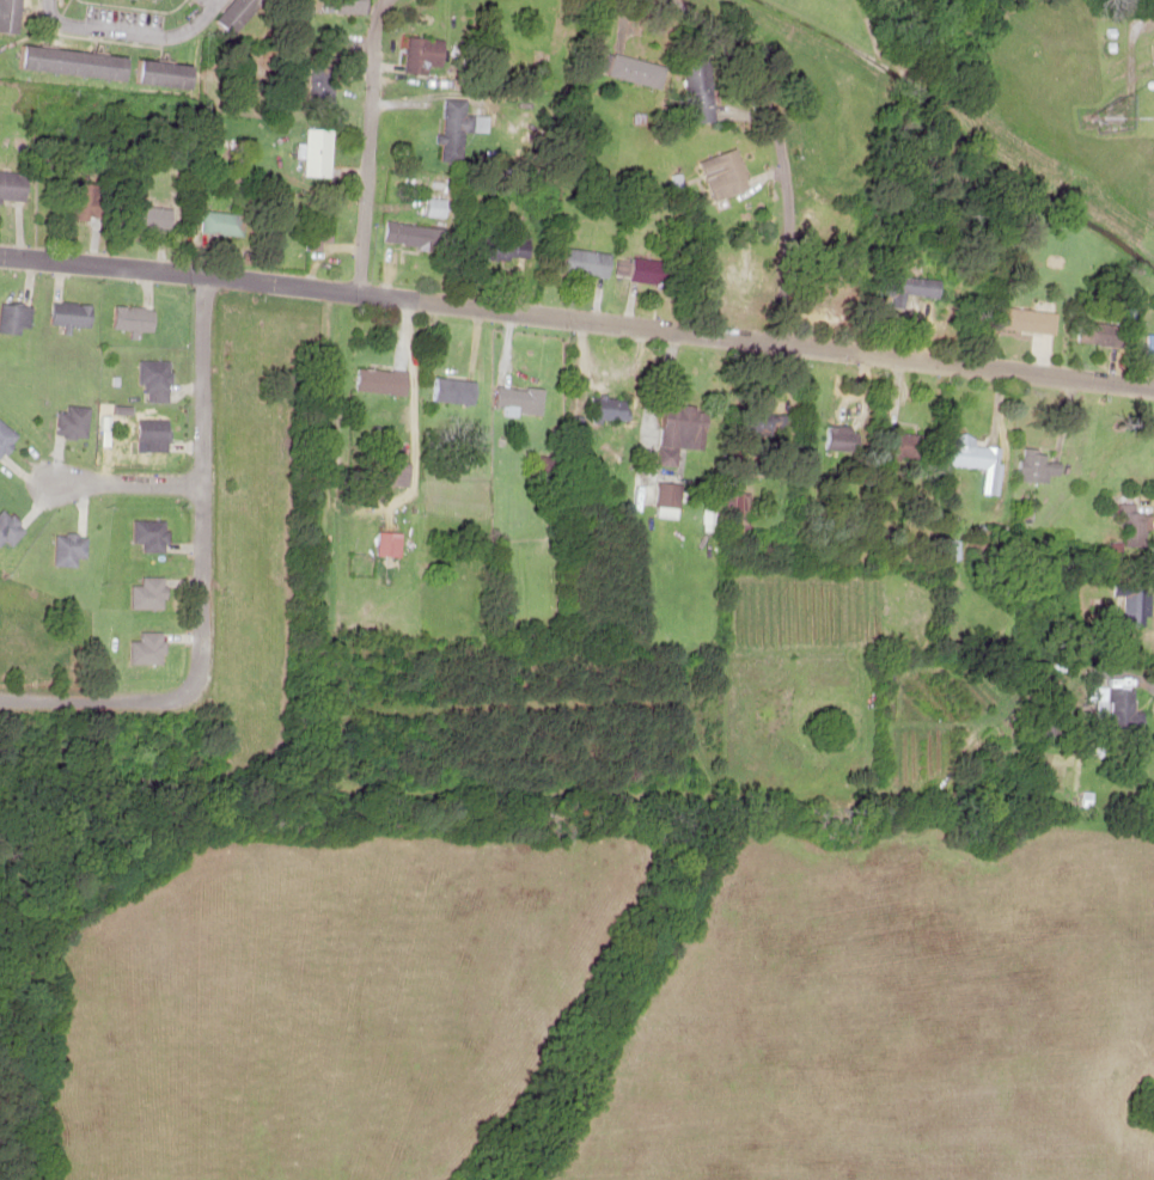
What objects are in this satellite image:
building: (350, 6)
building: (239, 13)
building: (11, 16)
road: (130, 30)
building: (425, 55)
building: (1153, 59)
building: (74, 62)
building: (635, 69)
building: (166, 74)
building: (320, 87)
building: (701, 88)
building: (452, 137)
road: (779, 141)
road: (370, 142)
building: (319, 153)
building: (727, 175)
building: (13, 187)
building: (86, 201)
building: (157, 216)
building: (224, 224)
building: (320, 227)
building: (409, 234)
building: (588, 262)
building: (647, 269)
building: (740, 277)
building: (834, 289)
building: (72, 313)
road: (576, 316)
building: (134, 317)
building: (14, 319)
building: (1027, 320)
building: (1098, 334)
building: (1149, 344)
building: (154, 380)
building: (381, 381)
building: (453, 391)
building: (519, 399)
building: (606, 408)
building: (72, 422)
building: (680, 432)
building: (153, 434)
building: (6, 438)
building: (912, 446)
building: (978, 458)
building: (393, 466)
building: (1040, 466)
road: (124, 481)
building: (8, 528)
building: (1136, 528)
building: (151, 534)
building: (389, 543)
building: (69, 549)
road: (199, 576)
building: (148, 593)
building: (1135, 601)
building: (147, 649)
building: (1123, 710)

